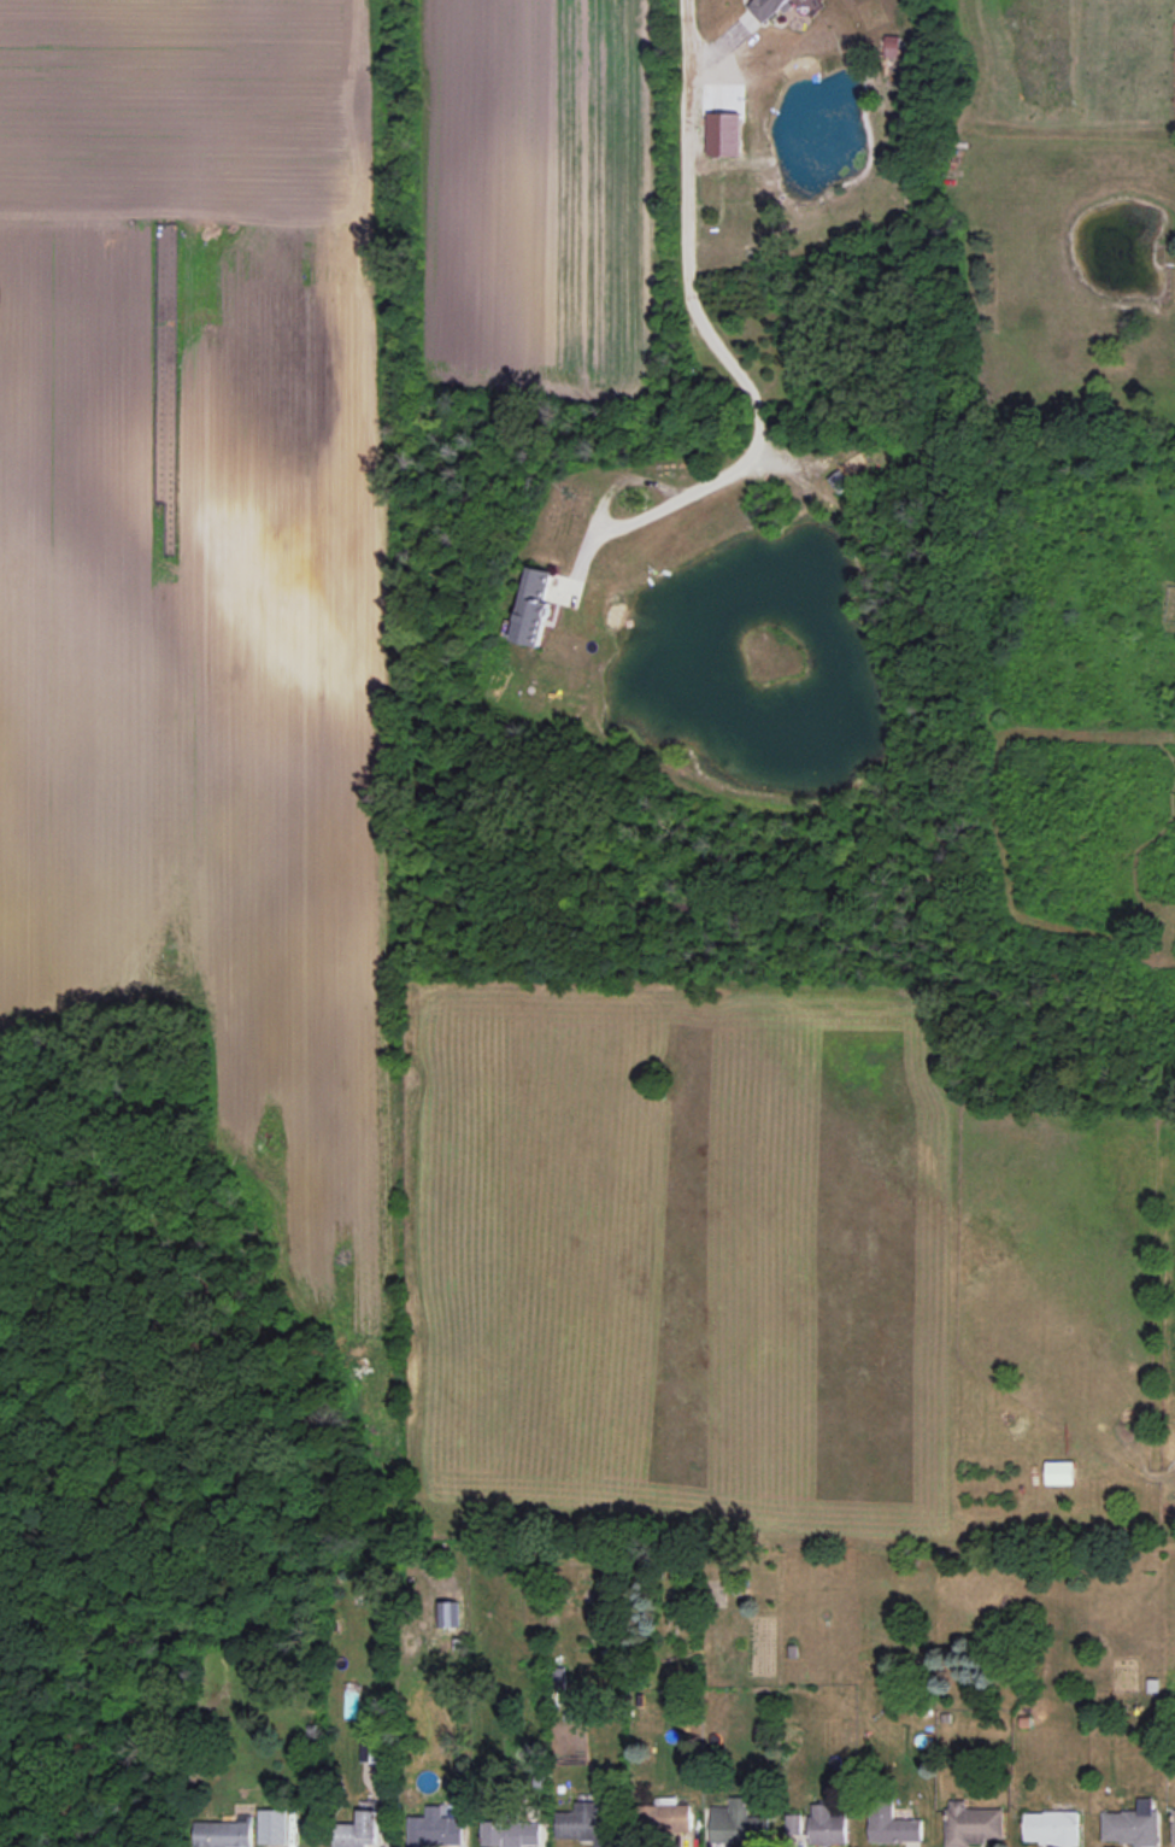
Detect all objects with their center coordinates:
building: (805, 0)
building: (768, 8)
building: (892, 46)
road: (709, 336)
building: (534, 605)
building: (1061, 1472)
building: (668, 1816)
building: (738, 1823)
building: (586, 1824)
building: (827, 1824)
building: (892, 1824)
building: (973, 1824)
building: (1132, 1824)
building: (793, 1825)
building: (1174, 1825)
building: (272, 1827)
building: (1051, 1828)
building: (358, 1830)
building: (435, 1830)
building: (511, 1831)
building: (224, 1833)

